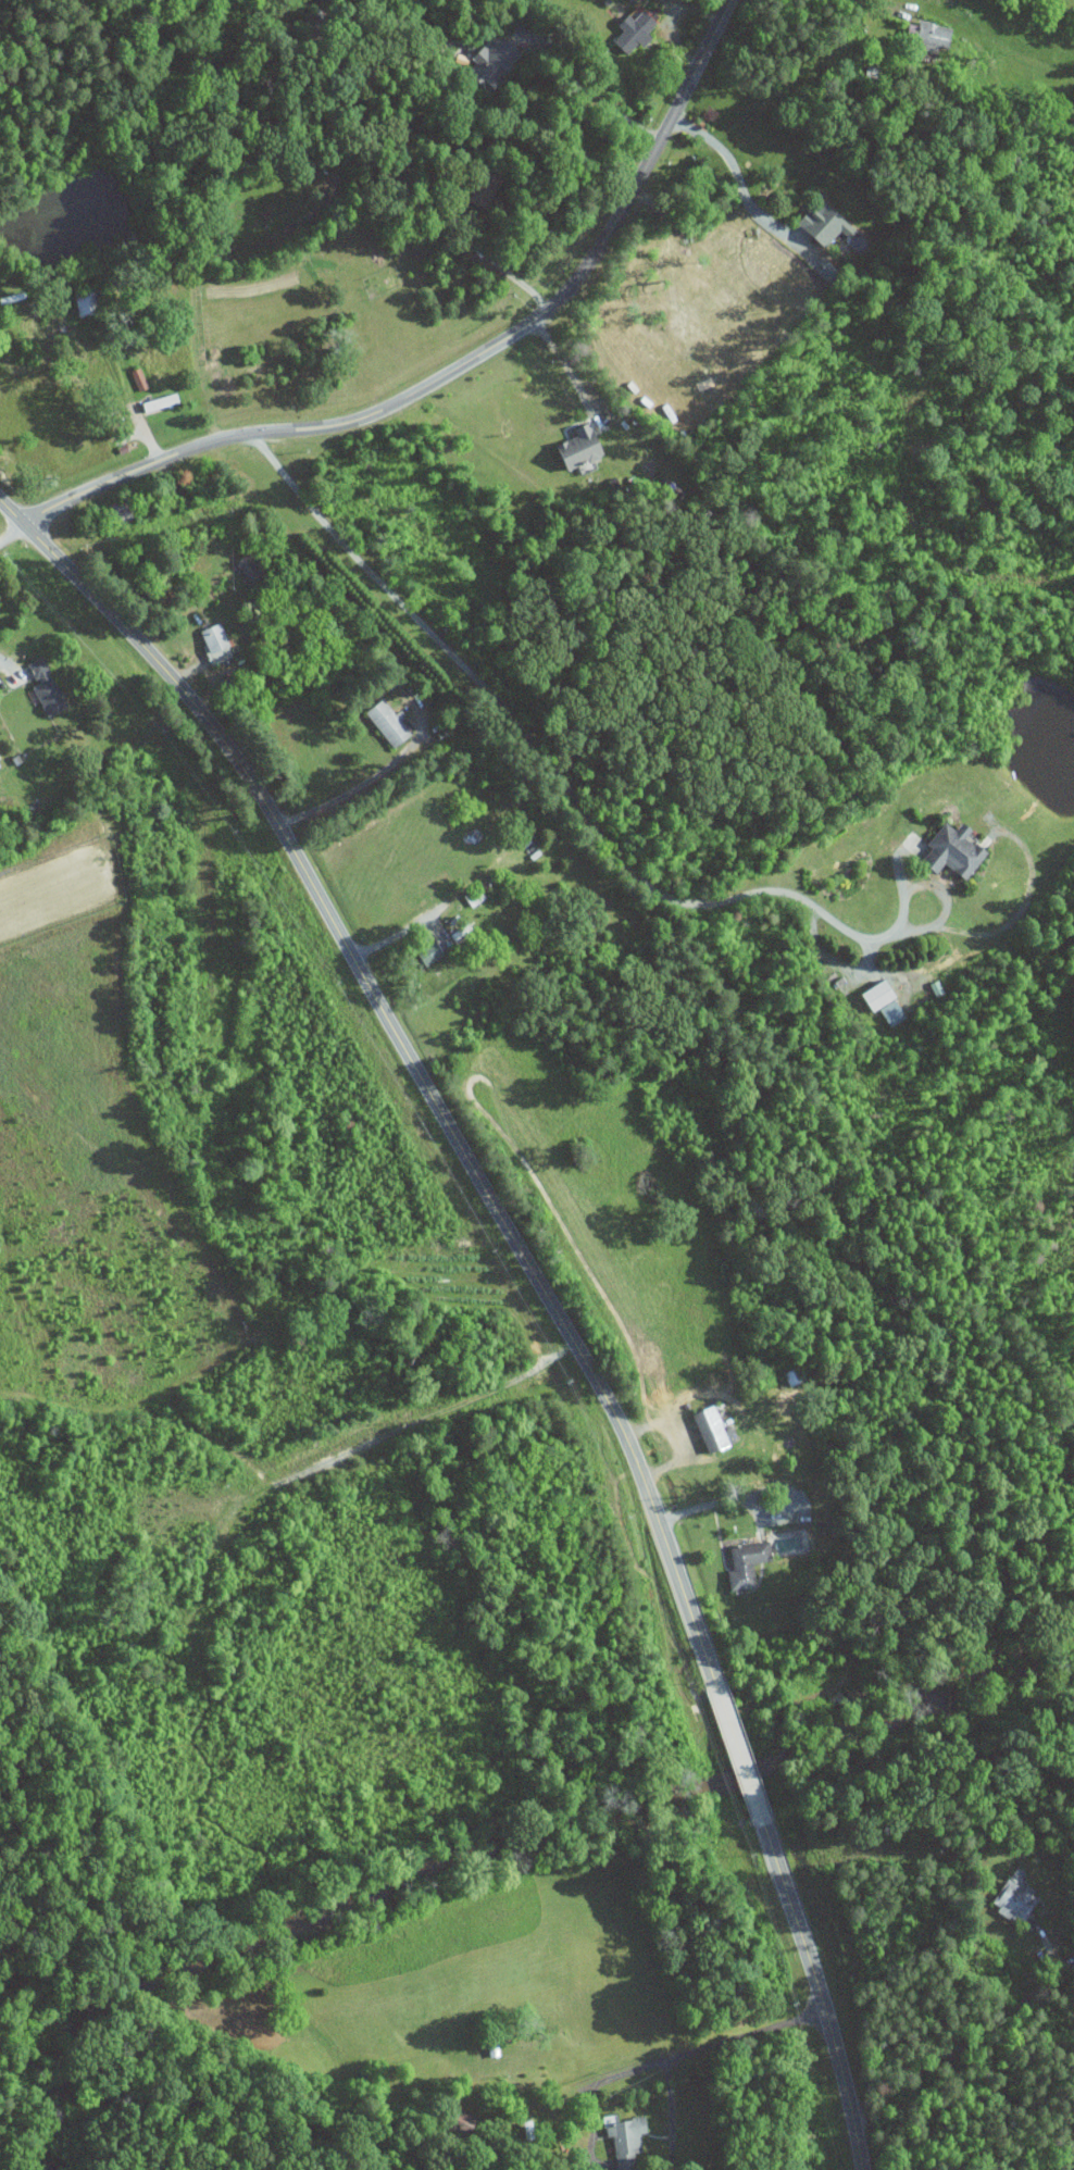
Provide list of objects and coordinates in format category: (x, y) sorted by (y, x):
building: (636, 8)
road: (674, 21)
building: (635, 30)
building: (929, 34)
building: (497, 59)
road: (586, 88)
road: (735, 170)
building: (828, 225)
road: (502, 269)
road: (460, 367)
road: (572, 367)
building: (583, 448)
road: (10, 531)
building: (251, 568)
building: (217, 645)
road: (7, 664)
building: (47, 688)
building: (389, 724)
road: (357, 786)
road: (589, 818)
building: (958, 851)
road: (899, 864)
road: (1020, 908)
road: (401, 930)
road: (832, 962)
building: (886, 1002)
road: (408, 1055)
building: (714, 1430)
road: (717, 1501)
building: (749, 1563)
road: (738, 1753)
building: (1013, 1900)
road: (822, 1997)
road: (746, 2036)
road: (956, 2045)
road: (590, 2090)
road: (669, 2115)
building: (627, 2142)

